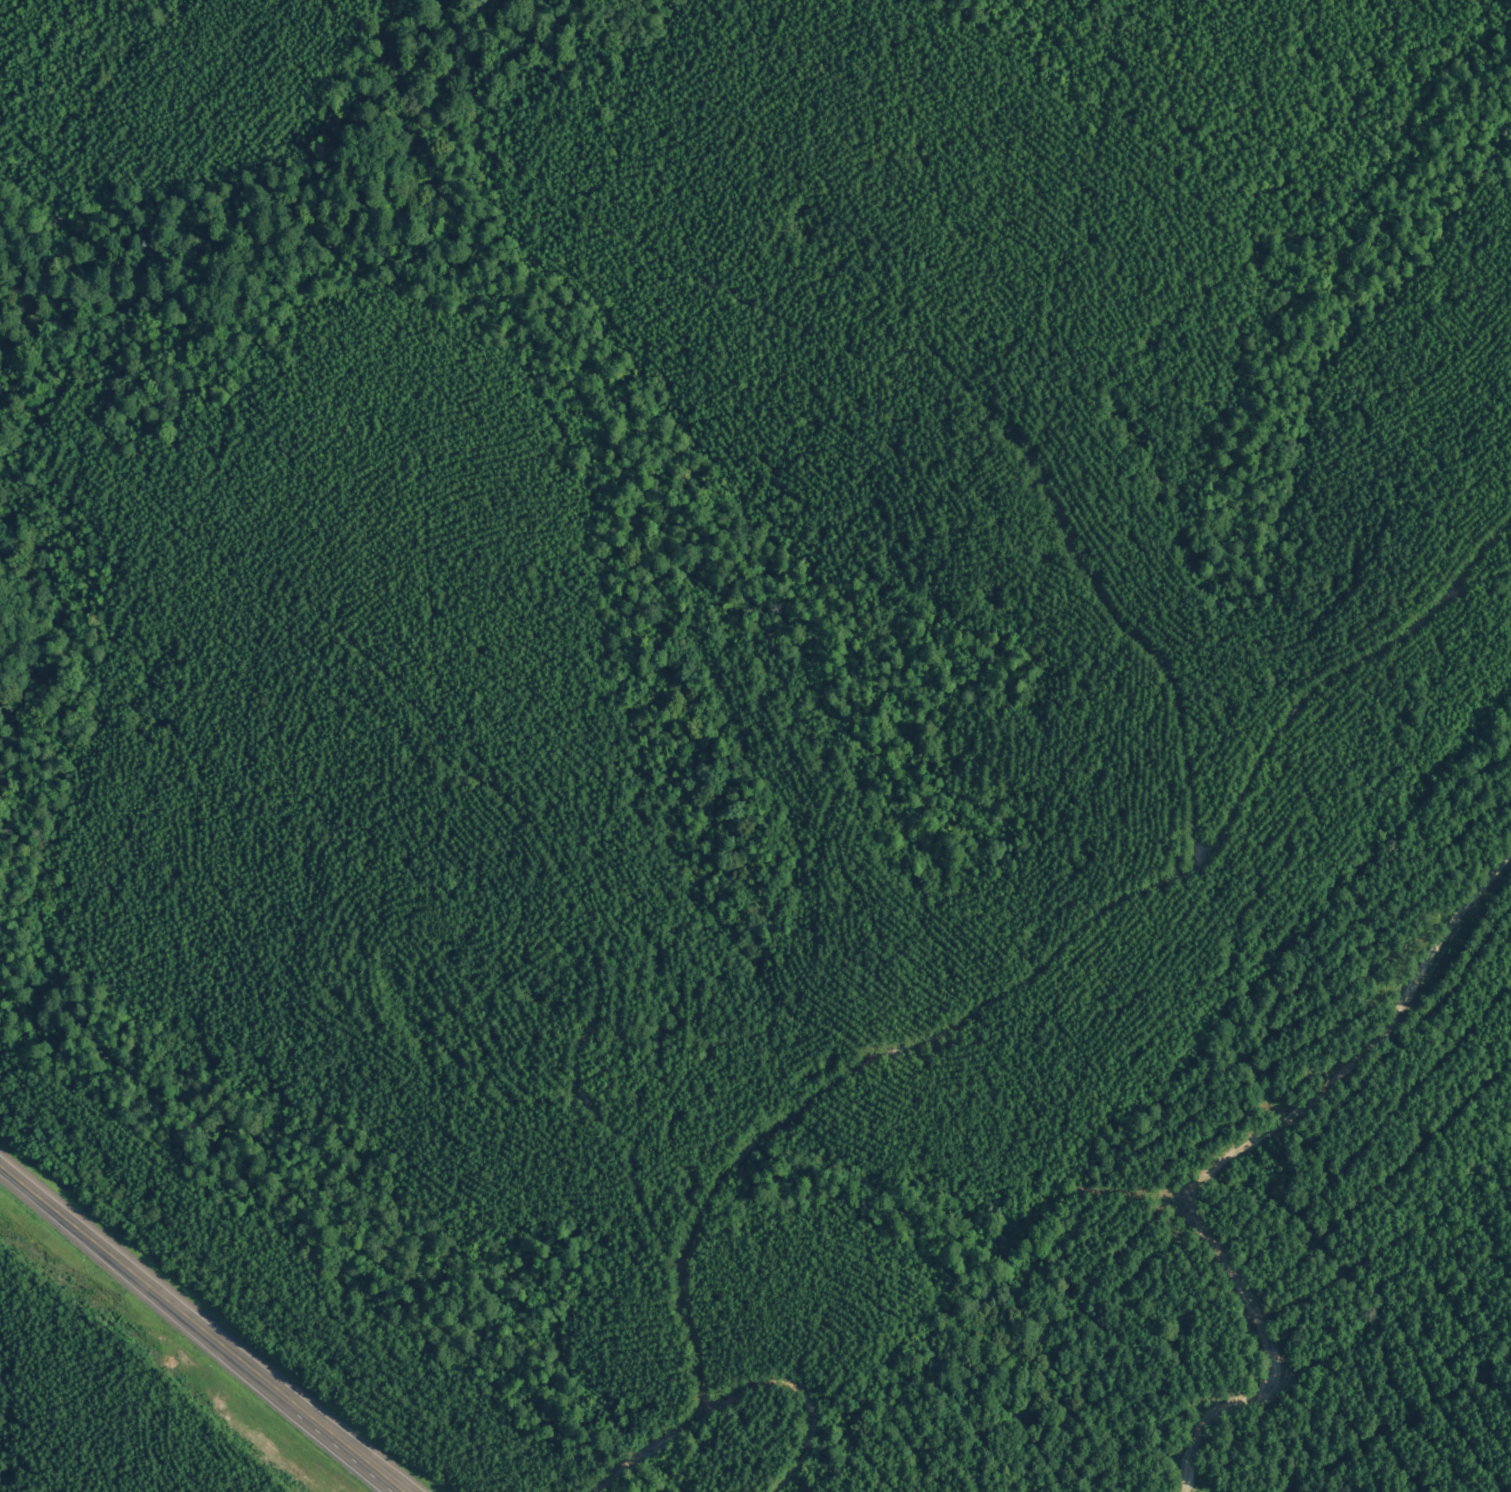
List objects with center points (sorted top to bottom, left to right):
road: (202, 1326)

